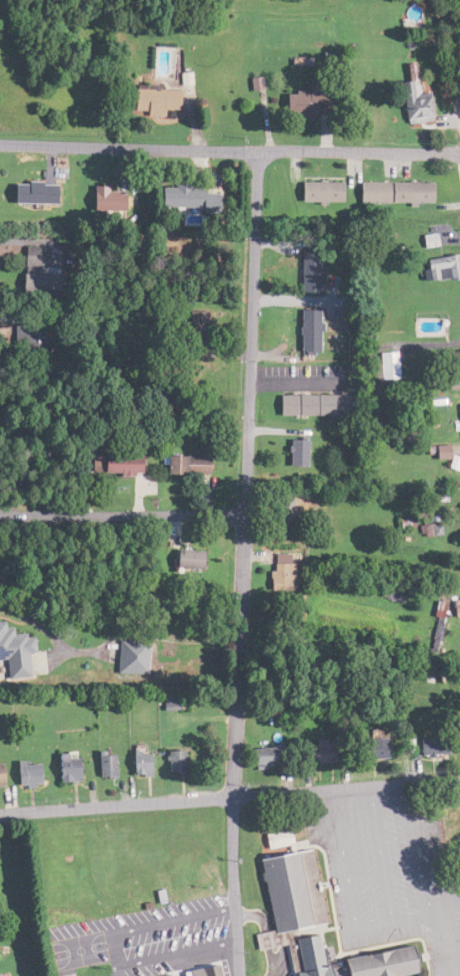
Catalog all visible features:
road: (449, 44)
building: (414, 97)
building: (150, 101)
building: (302, 101)
road: (229, 151)
building: (316, 191)
building: (27, 192)
building: (393, 192)
building: (101, 198)
building: (184, 198)
building: (25, 257)
building: (440, 268)
building: (307, 270)
building: (26, 282)
building: (305, 330)
building: (452, 365)
building: (383, 366)
building: (306, 405)
building: (458, 415)
building: (293, 452)
building: (109, 464)
building: (179, 465)
road: (246, 474)
building: (282, 510)
building: (459, 511)
road: (122, 515)
building: (184, 559)
building: (279, 572)
building: (12, 654)
building: (129, 657)
building: (165, 703)
building: (431, 744)
building: (370, 748)
building: (314, 751)
building: (261, 757)
building: (170, 761)
building: (136, 763)
building: (102, 766)
building: (63, 767)
building: (25, 774)
building: (0, 775)
road: (346, 787)
road: (117, 805)
road: (417, 848)
road: (381, 853)
road: (343, 858)
road: (234, 886)
building: (287, 903)
road: (407, 917)
road: (448, 942)
road: (120, 949)
building: (377, 963)
road: (128, 972)
building: (195, 973)

